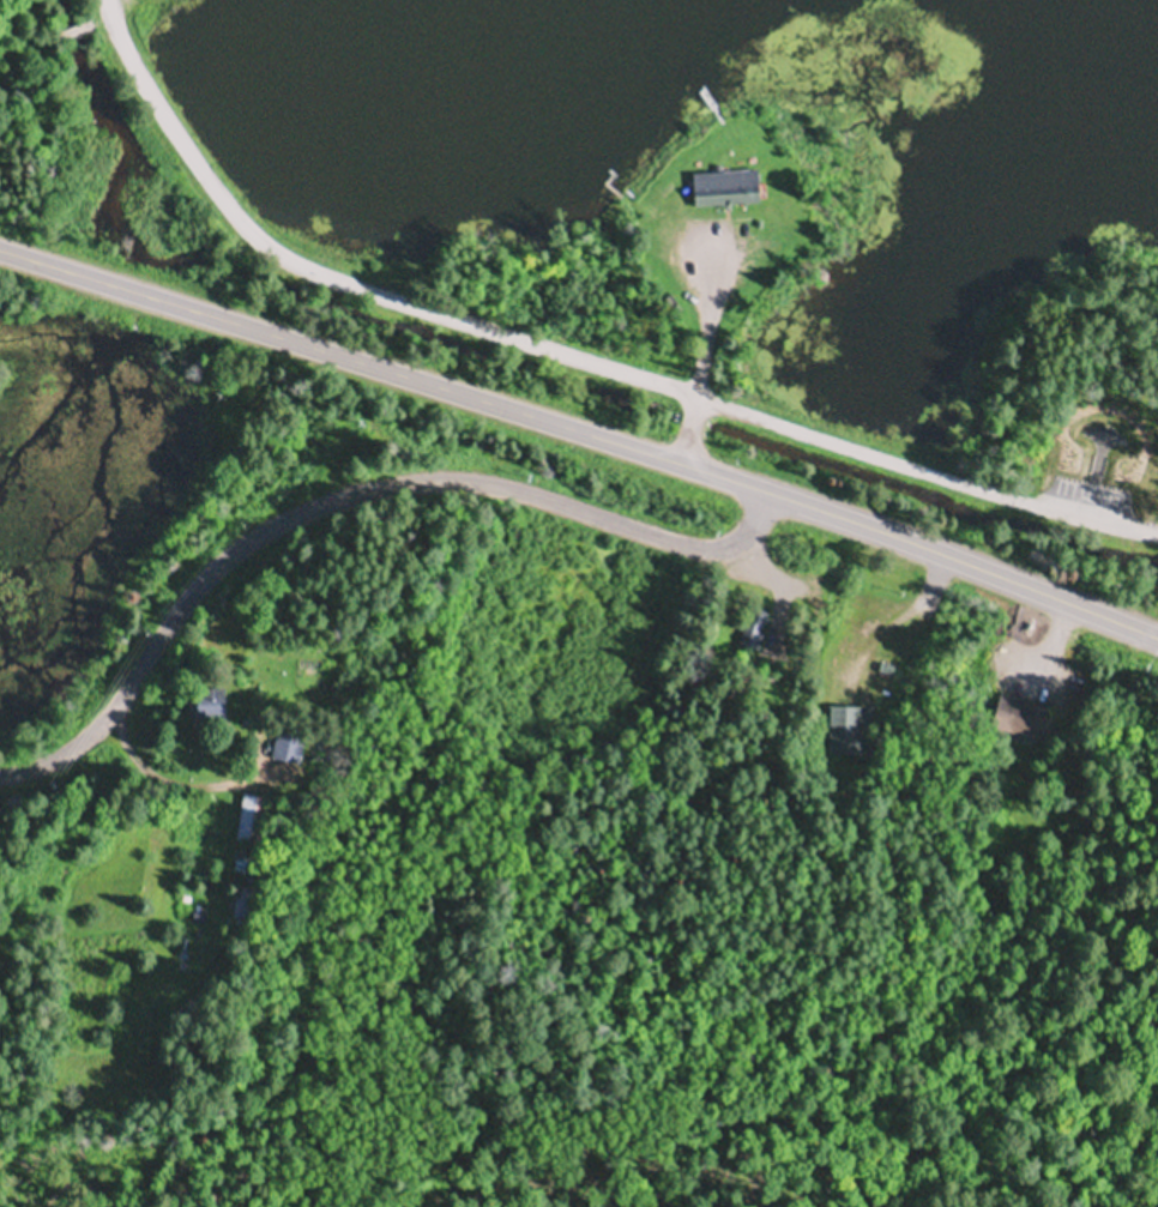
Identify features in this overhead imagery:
river: (122, 189)
building: (713, 189)
park: (252, 290)
river: (263, 327)
road: (700, 348)
road: (573, 351)
road: (581, 430)
road: (350, 494)
river: (149, 543)
building: (1008, 724)
road: (149, 761)

